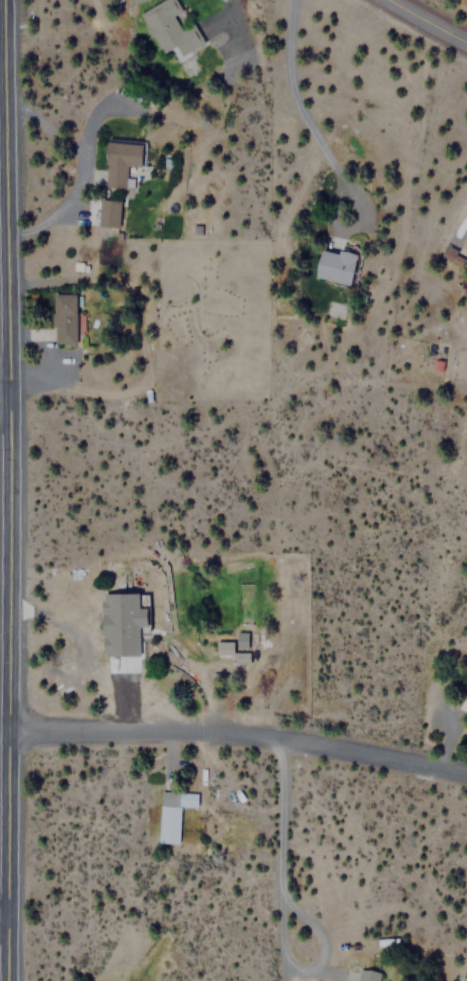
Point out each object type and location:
road: (427, 20)
building: (168, 27)
building: (119, 160)
building: (108, 211)
building: (464, 241)
building: (448, 253)
building: (336, 266)
building: (63, 318)
road: (4, 397)
road: (7, 490)
building: (243, 603)
building: (127, 621)
building: (465, 699)
road: (236, 730)
building: (172, 812)
road: (2, 910)
building: (366, 975)

